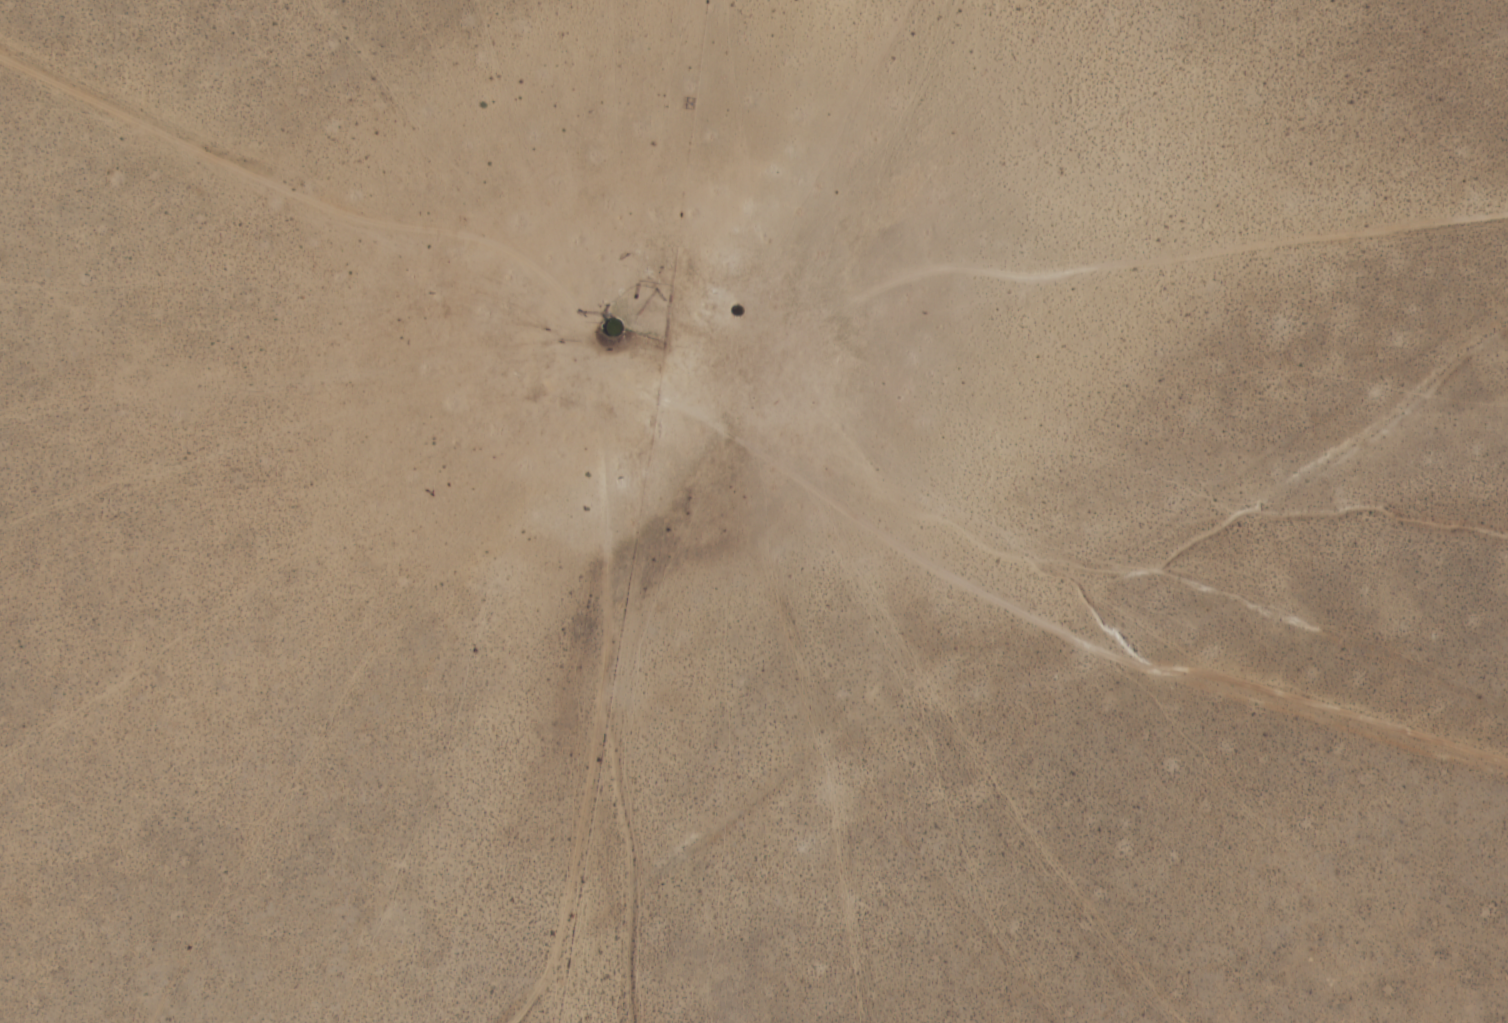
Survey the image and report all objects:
road: (310, 199)
road: (1076, 272)
storage tank: (740, 311)
storage tank: (612, 327)
road: (1023, 614)
road: (601, 692)

